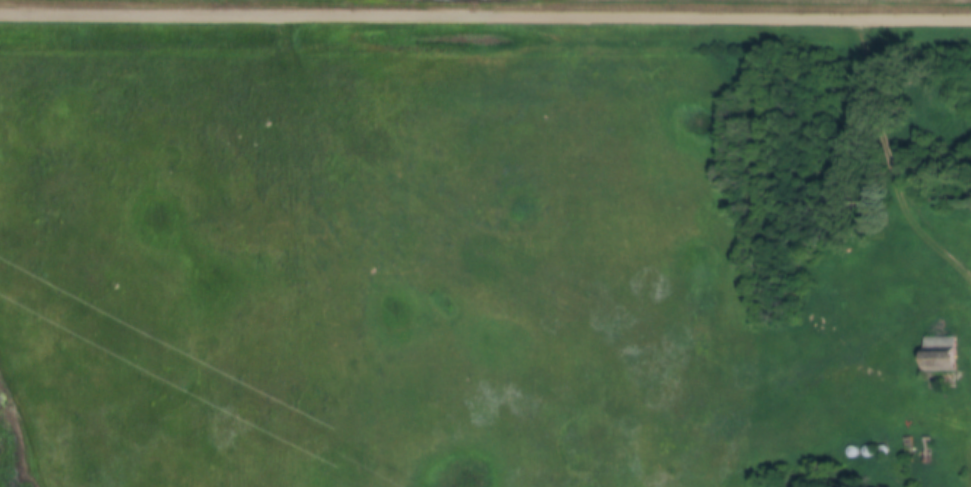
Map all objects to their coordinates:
road: (485, 21)
road: (892, 161)
building: (941, 355)

